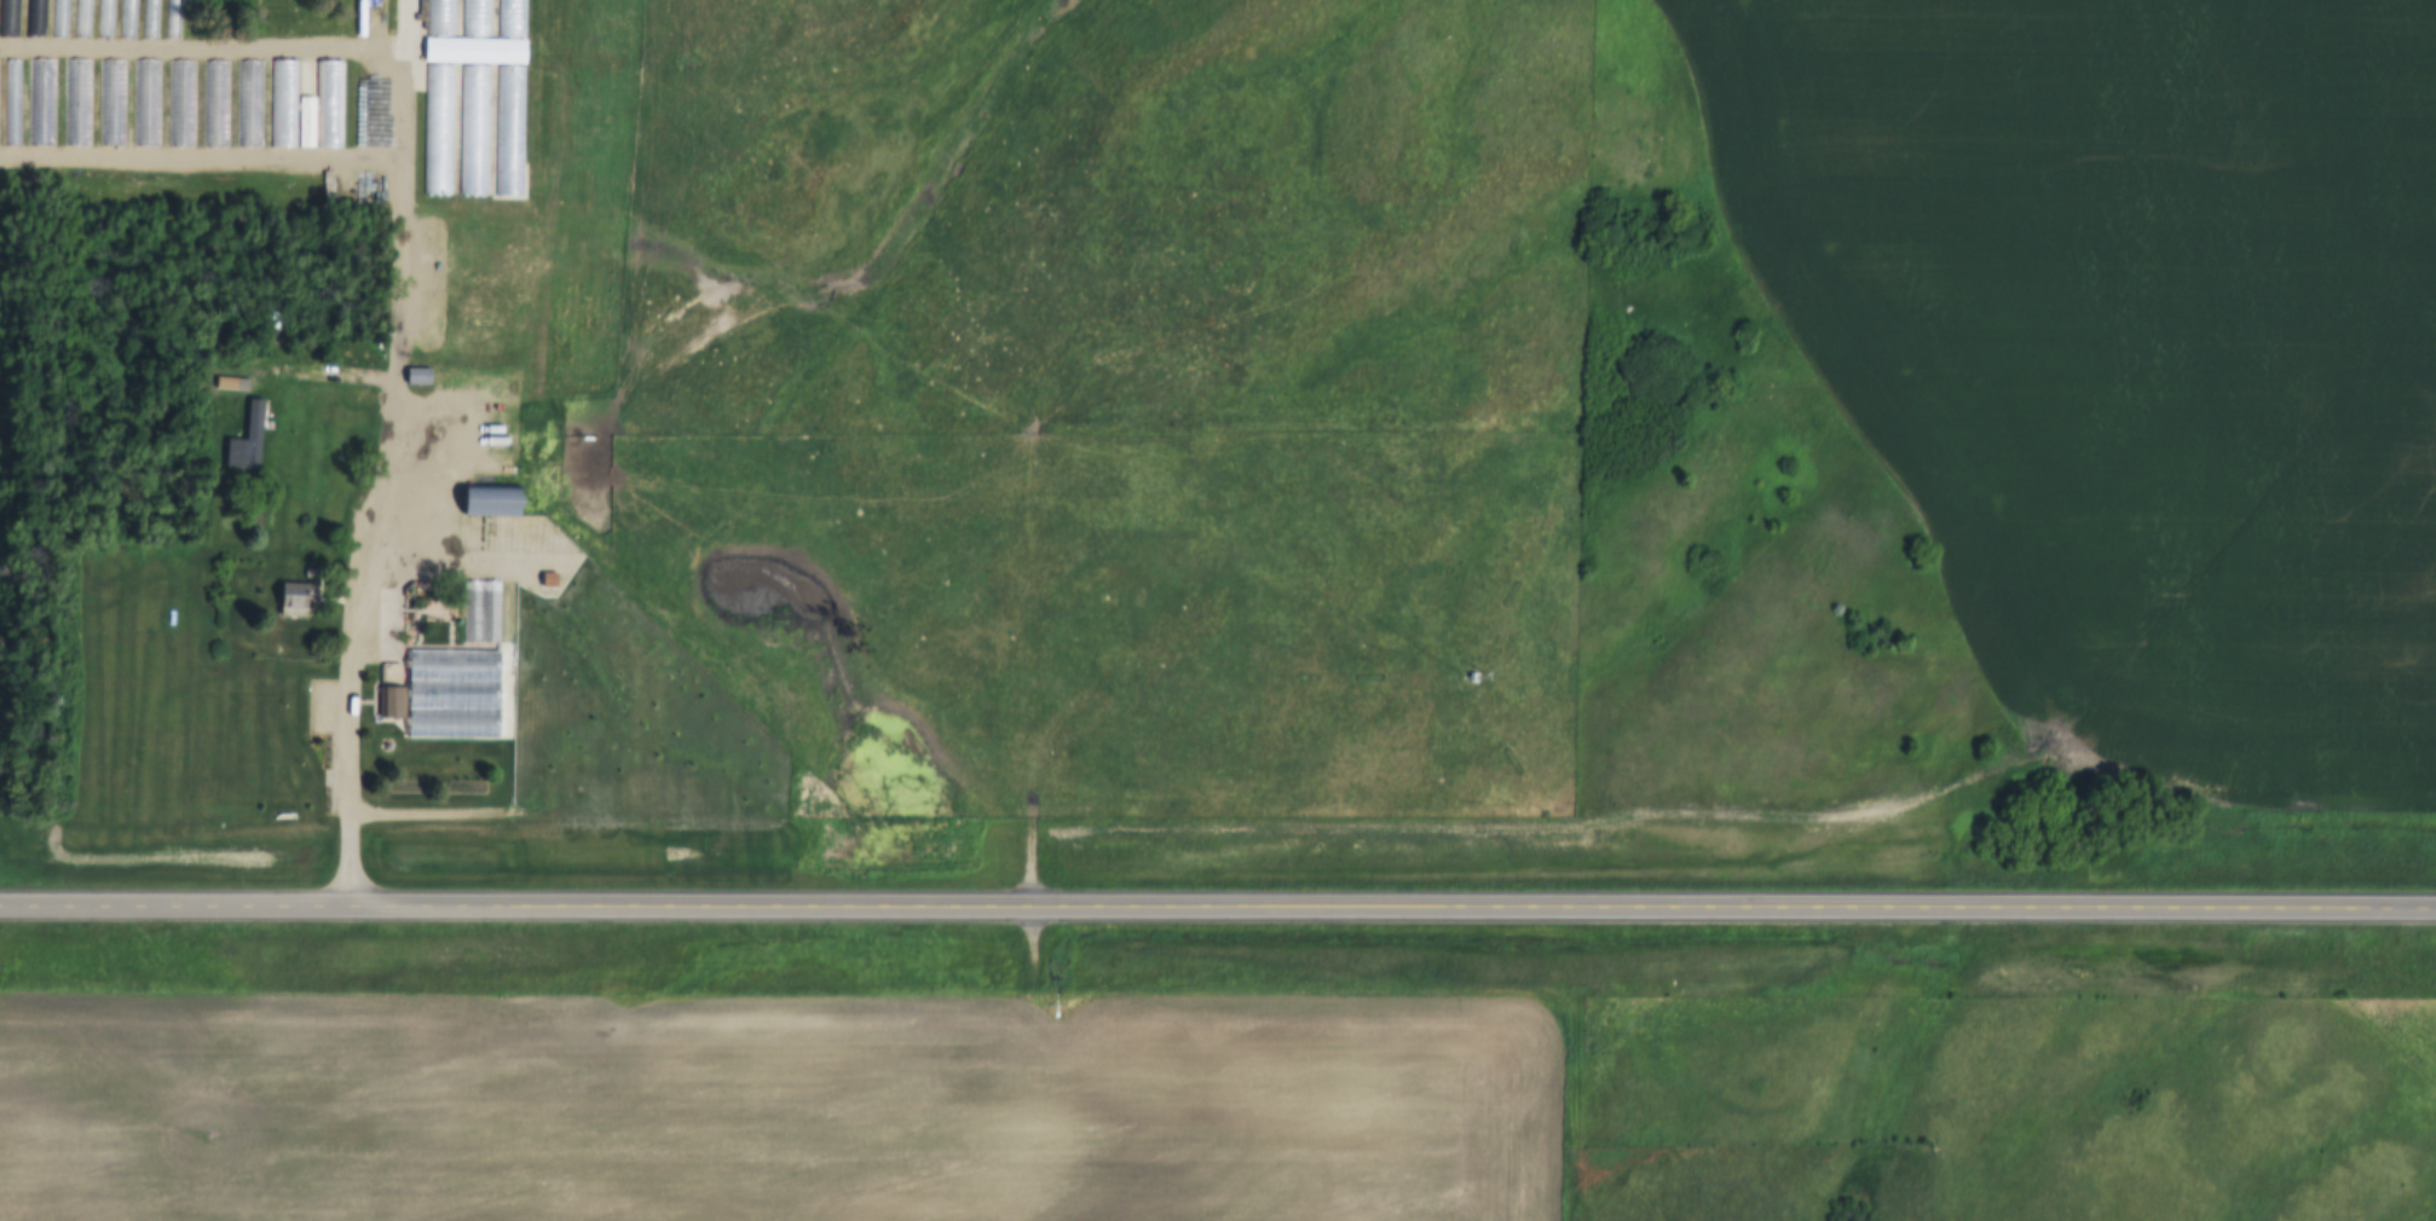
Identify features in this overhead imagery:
building: (514, 10)
building: (8, 18)
building: (34, 18)
road: (408, 19)
road: (260, 39)
building: (248, 104)
building: (305, 108)
building: (472, 108)
building: (215, 126)
road: (202, 151)
building: (412, 376)
building: (224, 388)
building: (224, 411)
building: (483, 502)
road: (371, 531)
building: (285, 601)
building: (478, 613)
building: (450, 664)
building: (1468, 665)
building: (387, 673)
building: (387, 704)
building: (450, 706)
road: (1218, 908)
road: (1241, 989)

